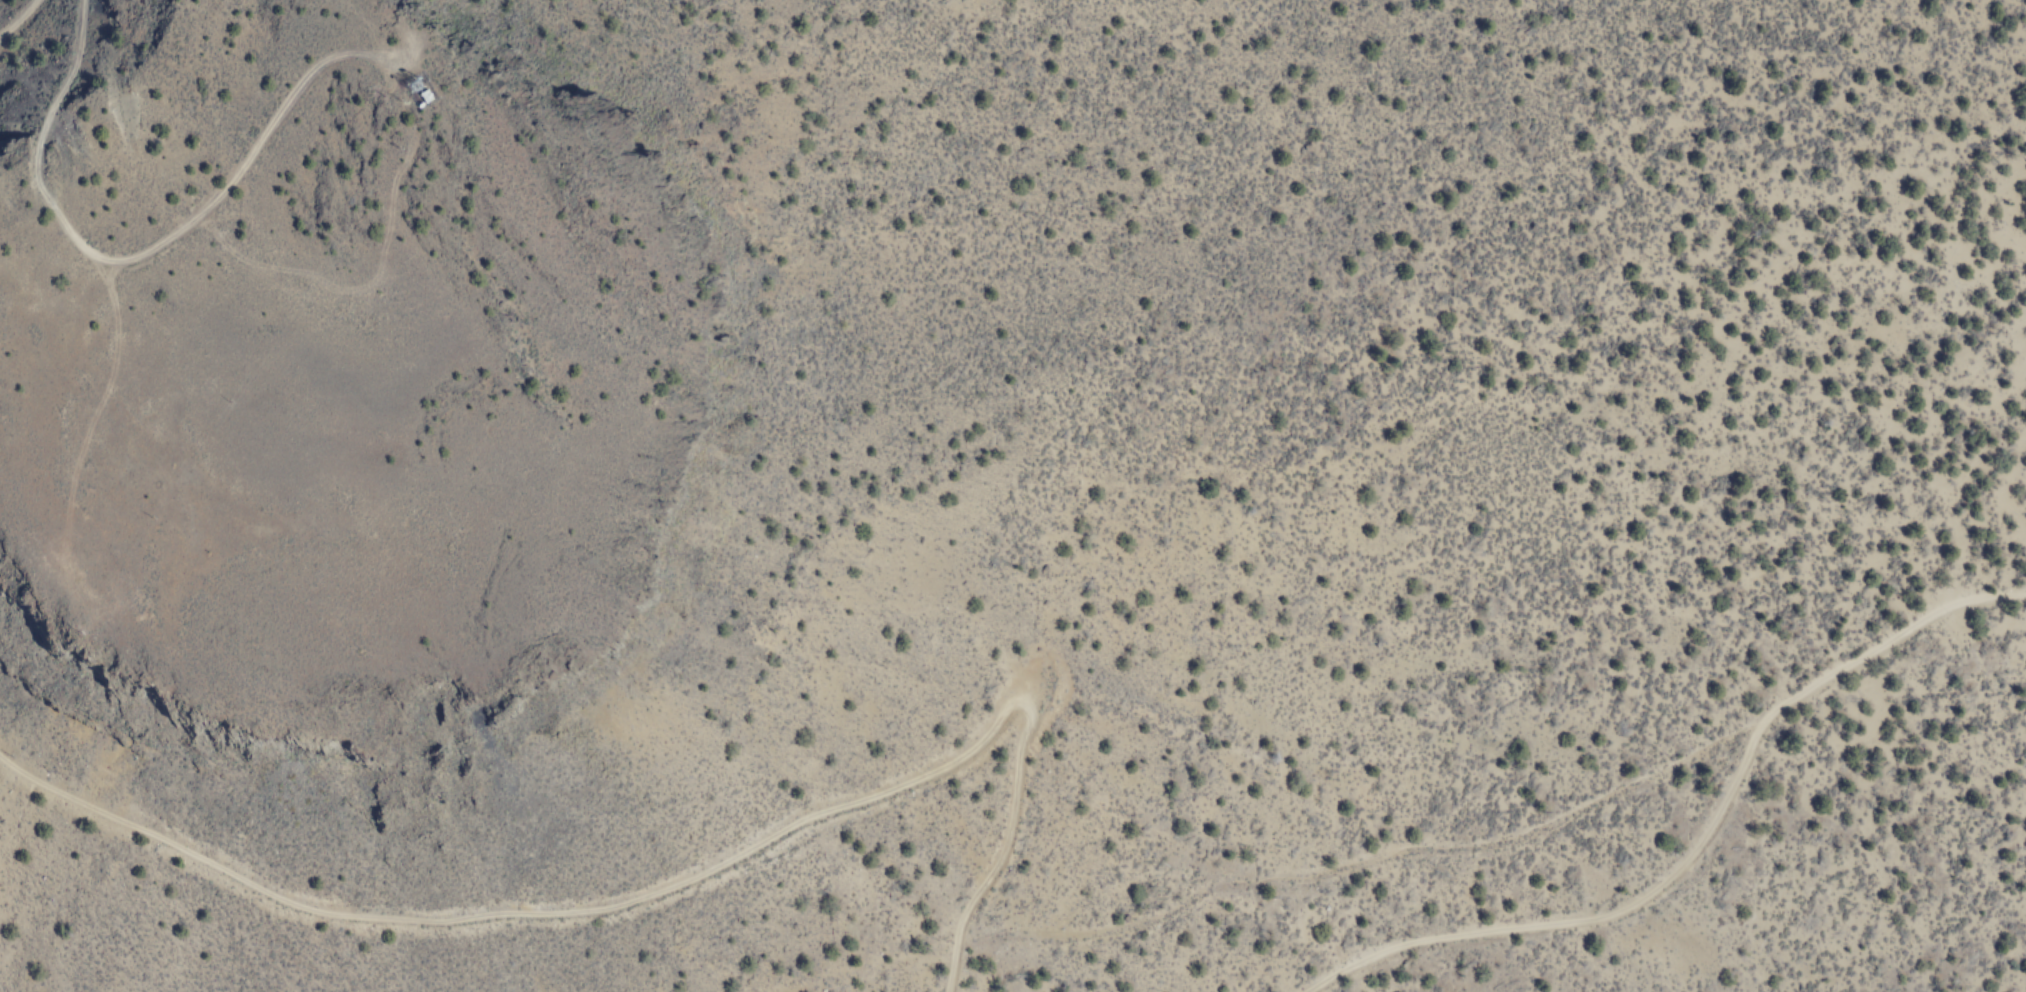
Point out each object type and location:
road: (20, 28)
road: (145, 243)
road: (4, 792)
road: (1692, 848)
road: (667, 884)

